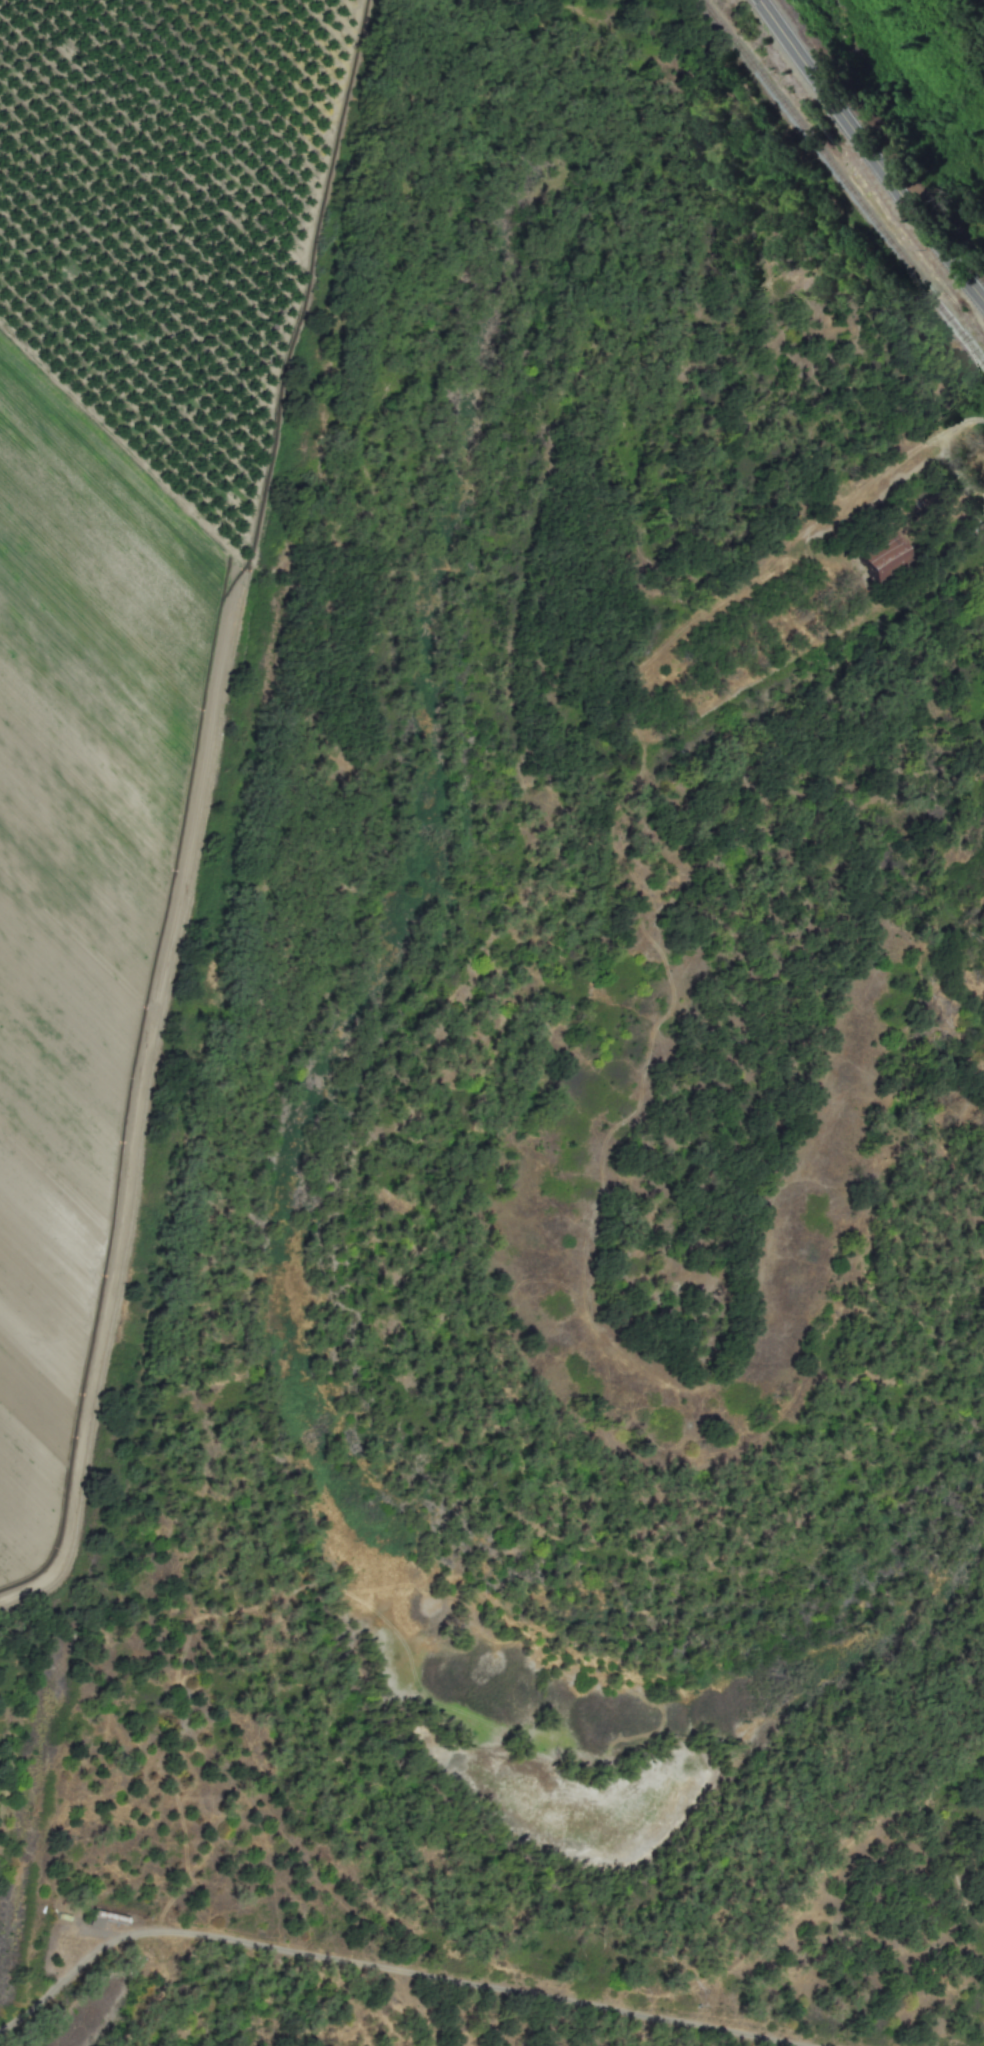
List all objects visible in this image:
road: (869, 153)
railway: (843, 180)
road: (949, 457)
building: (879, 555)
crop: (123, 581)
road: (383, 1971)

